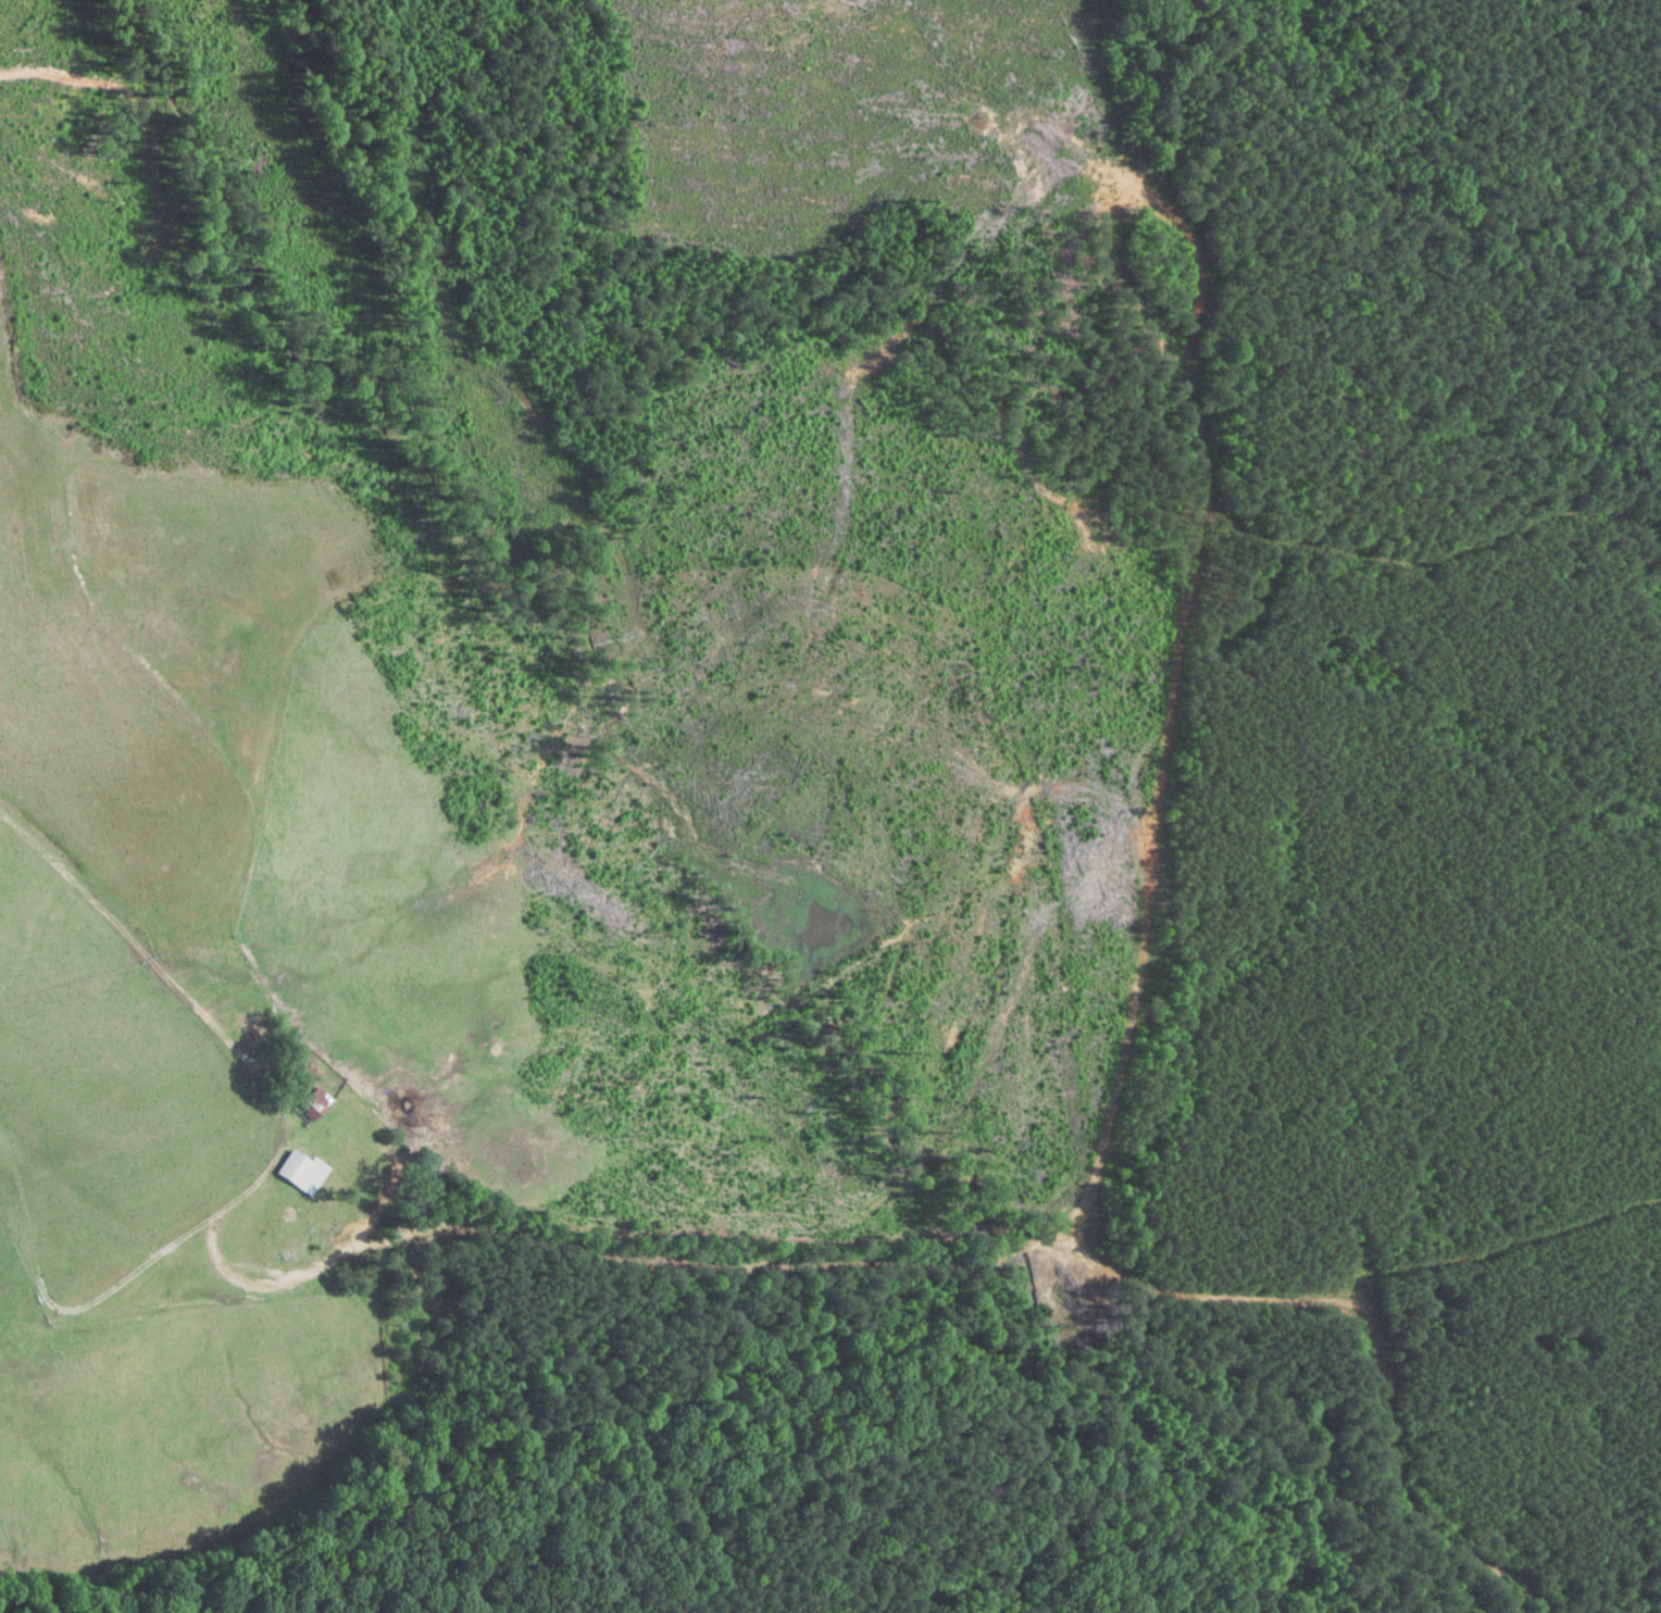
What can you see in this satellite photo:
road: (72, 1009)
building: (311, 1103)
building: (288, 1168)
road: (778, 1275)

